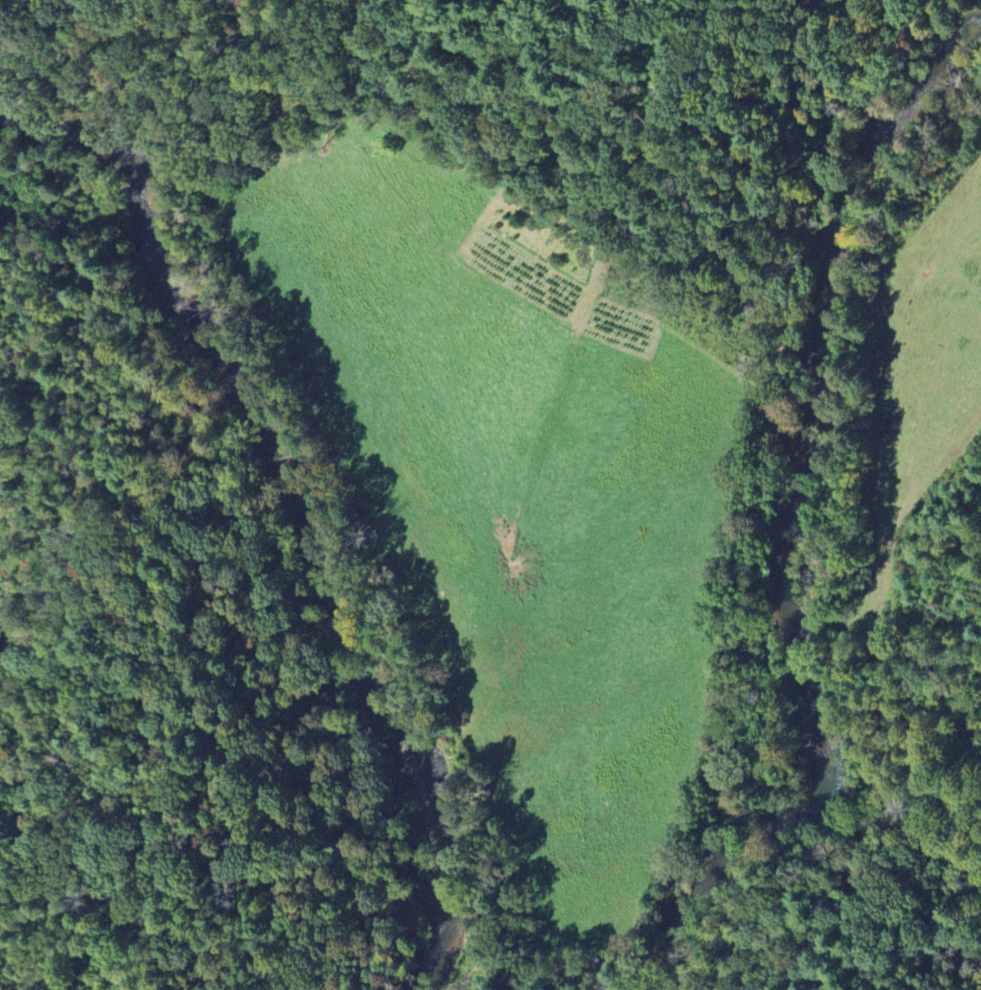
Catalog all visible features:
crop: (922, 386)
crop: (518, 491)
river: (298, 492)
river: (796, 533)
road: (760, 625)
road: (514, 964)

